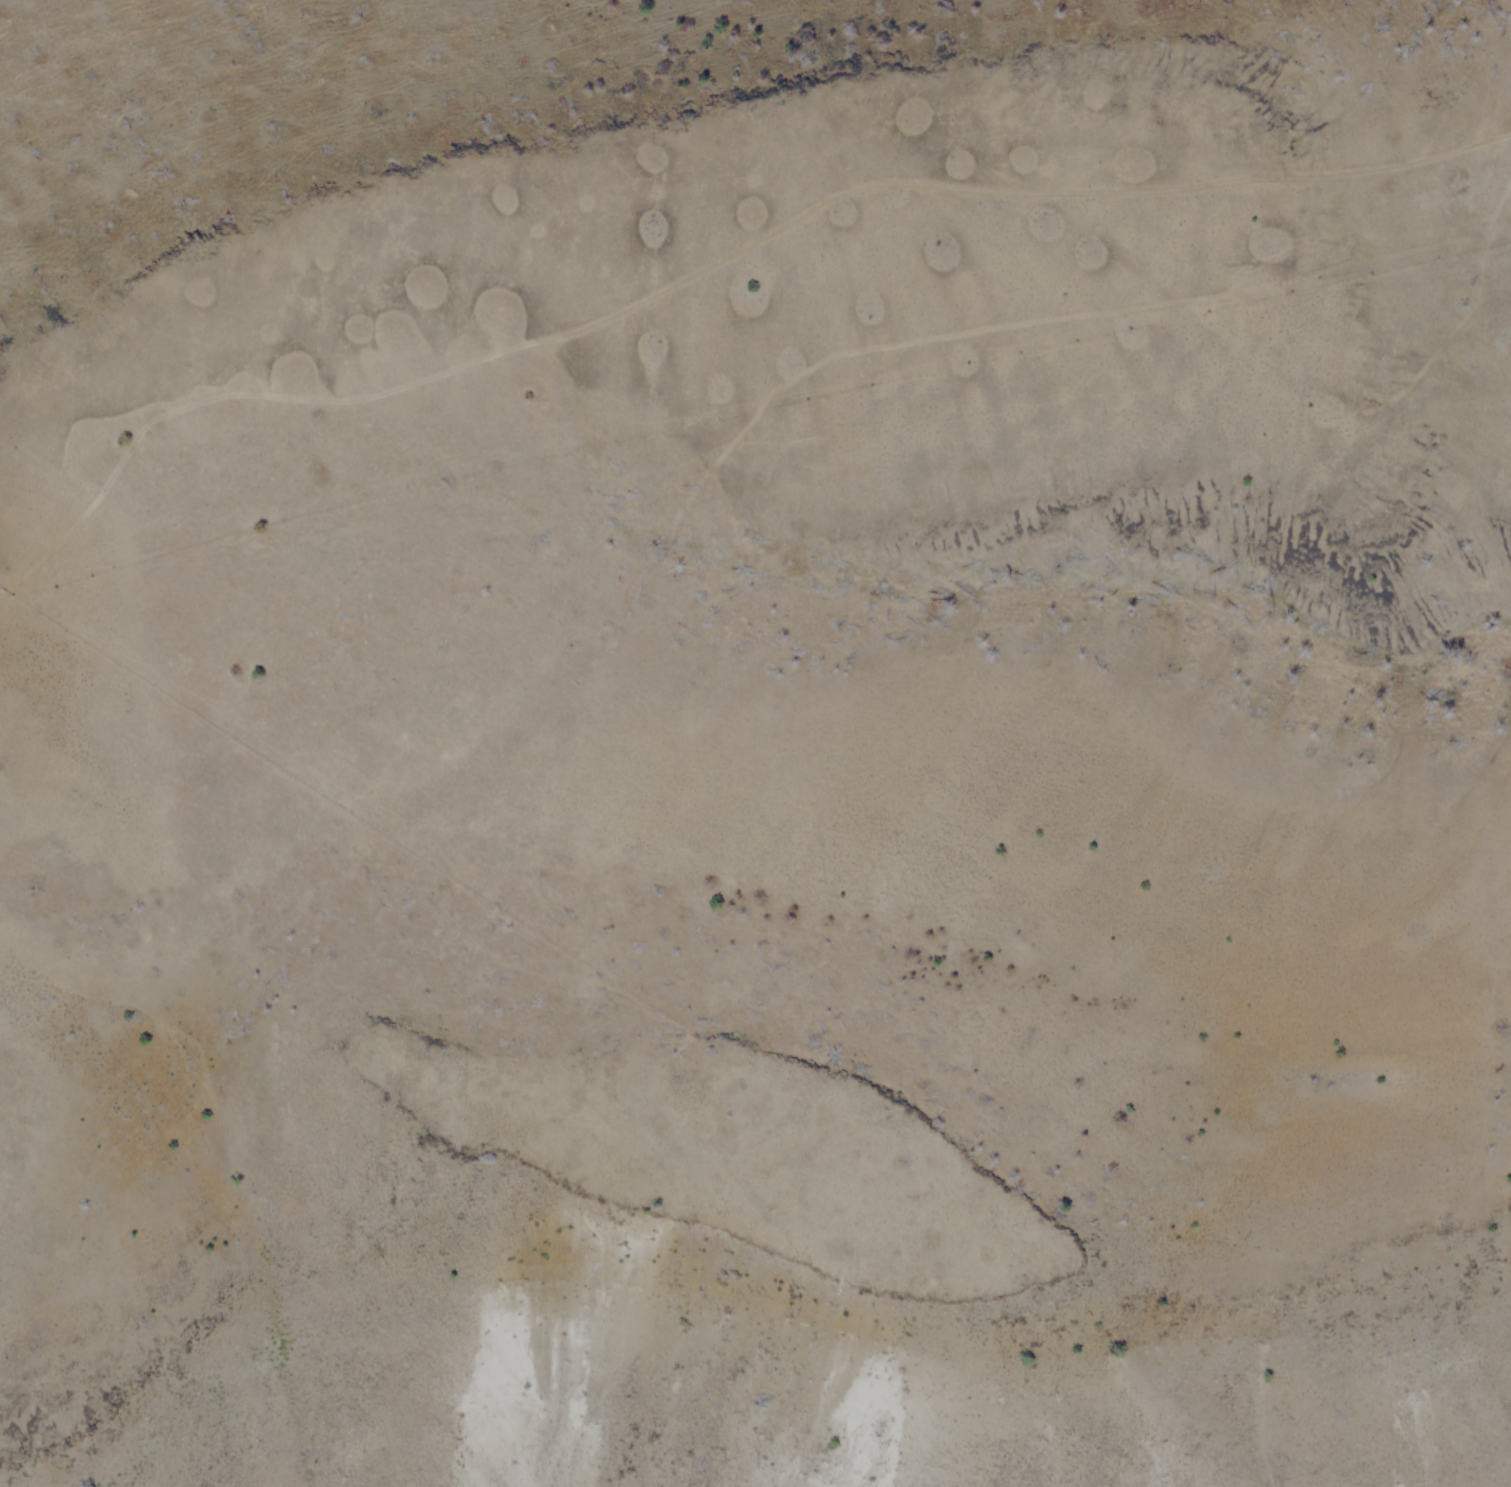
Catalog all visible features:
road: (178, 1114)

